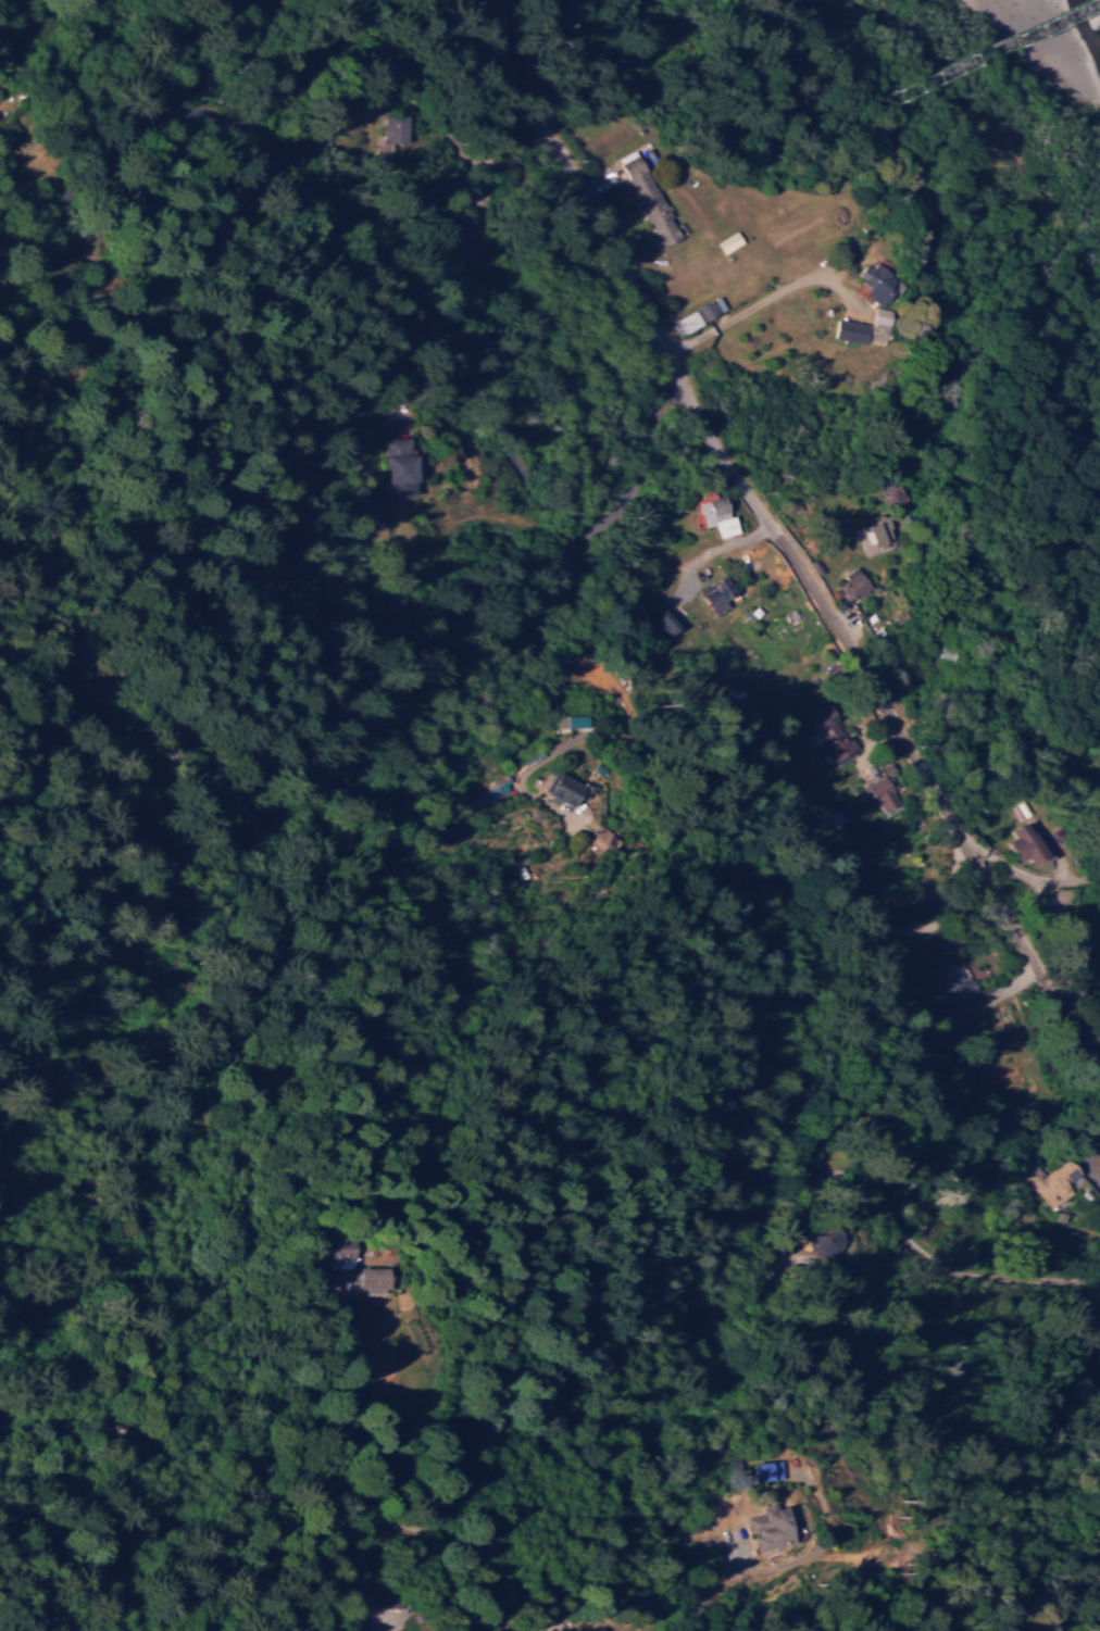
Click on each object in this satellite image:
river: (1096, 2)
railway: (715, 115)
building: (402, 128)
building: (649, 200)
building: (730, 241)
building: (878, 280)
building: (701, 313)
building: (879, 325)
building: (851, 330)
building: (416, 468)
building: (717, 515)
road: (786, 541)
building: (852, 584)
building: (716, 593)
building: (578, 720)
building: (564, 788)
building: (884, 793)
building: (603, 839)
building: (1020, 842)
building: (833, 1239)
building: (378, 1280)
road: (866, 1425)
building: (768, 1469)
building: (774, 1529)
building: (604, 1630)

